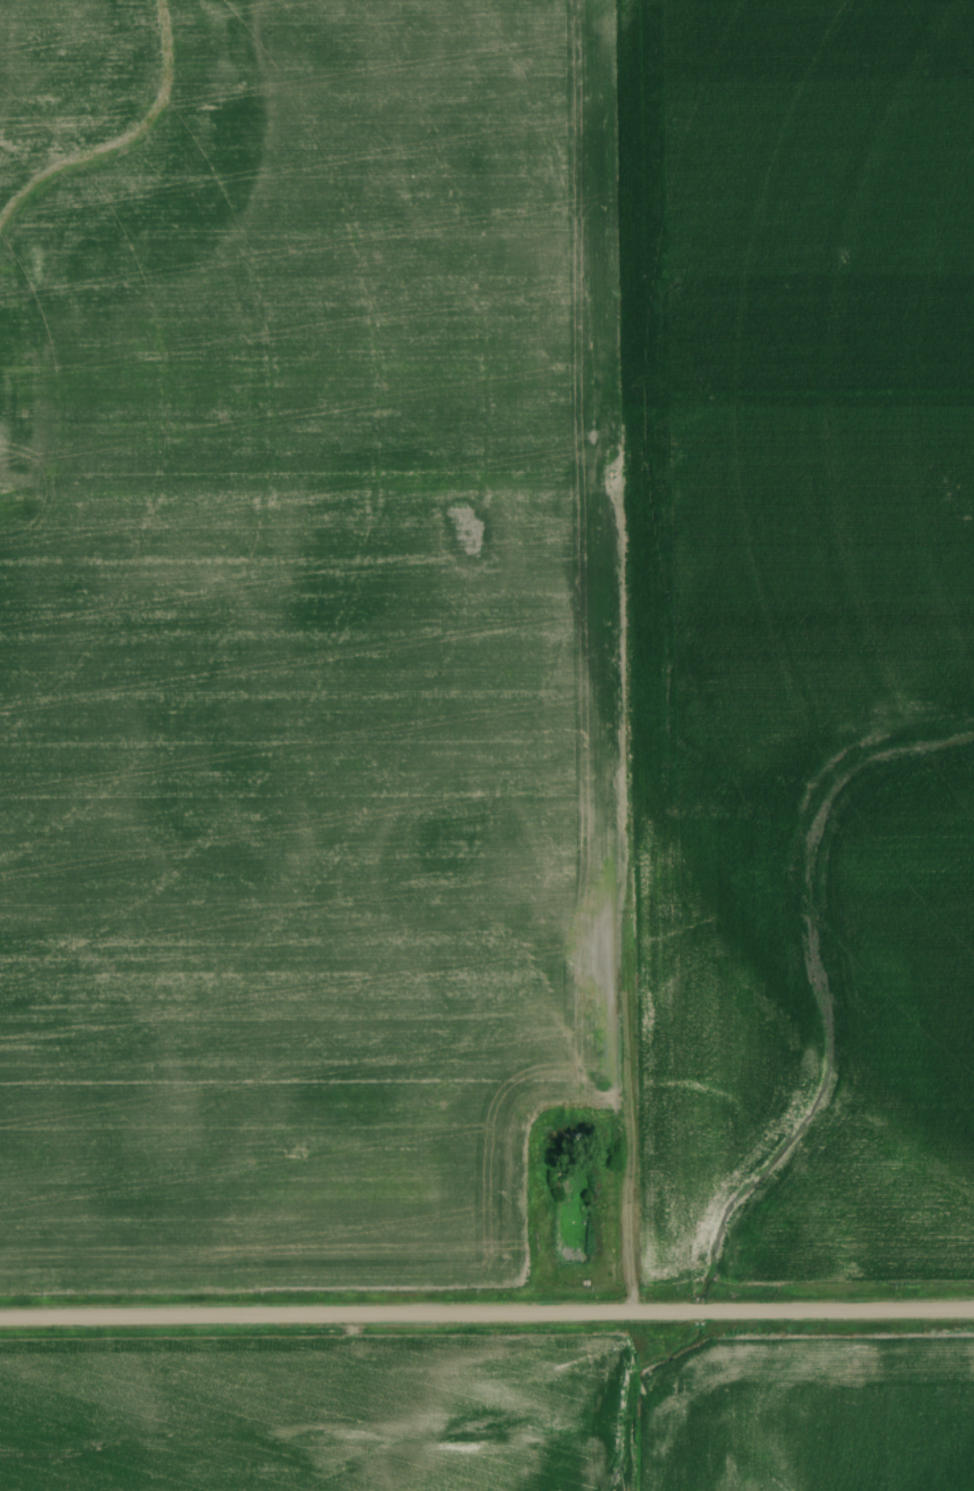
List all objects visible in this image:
road: (486, 1318)

